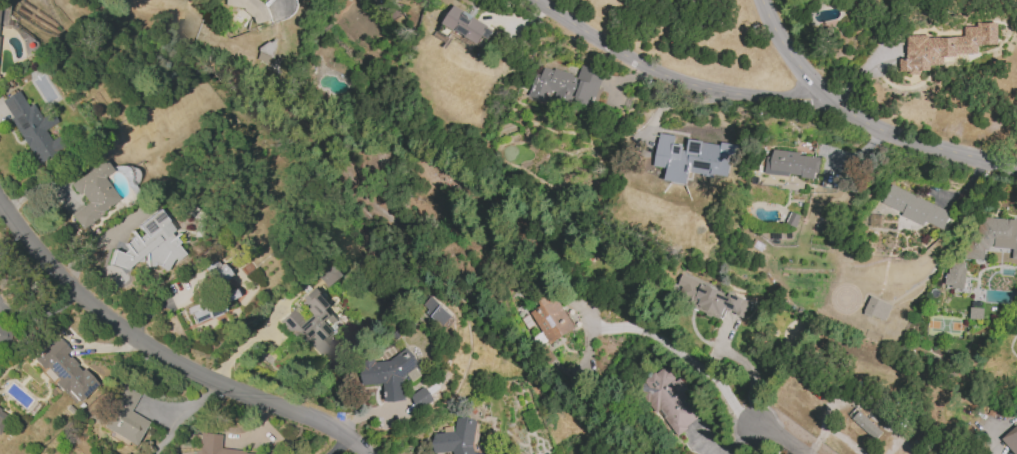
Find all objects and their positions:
building: (251, 7)
road: (281, 10)
building: (2, 14)
building: (468, 26)
building: (946, 47)
building: (265, 52)
road: (665, 72)
building: (566, 85)
road: (862, 120)
building: (30, 126)
building: (693, 158)
building: (792, 164)
building: (93, 193)
road: (1, 205)
building: (914, 207)
building: (992, 237)
building: (148, 246)
building: (215, 271)
building: (955, 275)
building: (708, 298)
building: (209, 305)
building: (877, 308)
building: (437, 311)
building: (976, 313)
building: (551, 319)
building: (311, 323)
building: (6, 335)
road: (242, 346)
road: (166, 352)
road: (681, 352)
road: (746, 365)
building: (62, 369)
building: (387, 375)
building: (421, 397)
building: (668, 400)
building: (124, 416)
building: (865, 425)
building: (456, 438)
road: (776, 439)
building: (1011, 440)
building: (213, 445)

